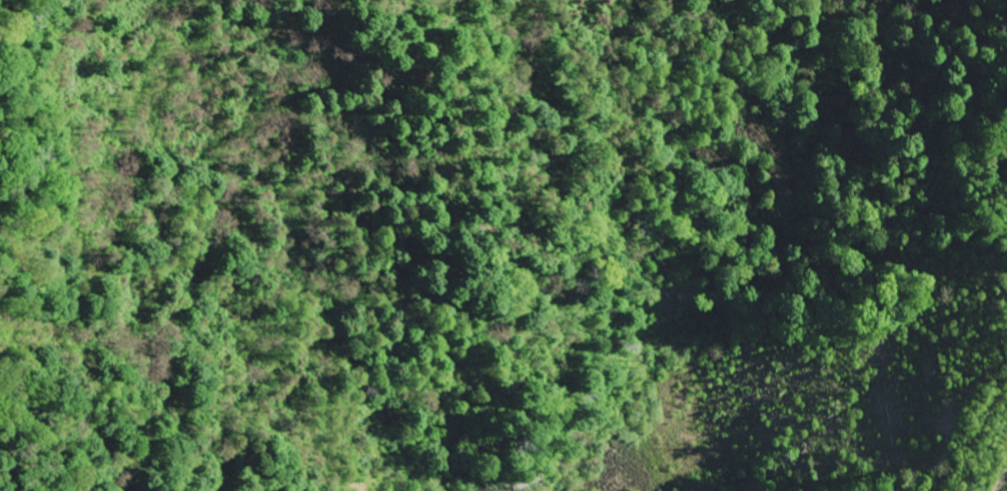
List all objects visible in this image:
road: (663, 407)

